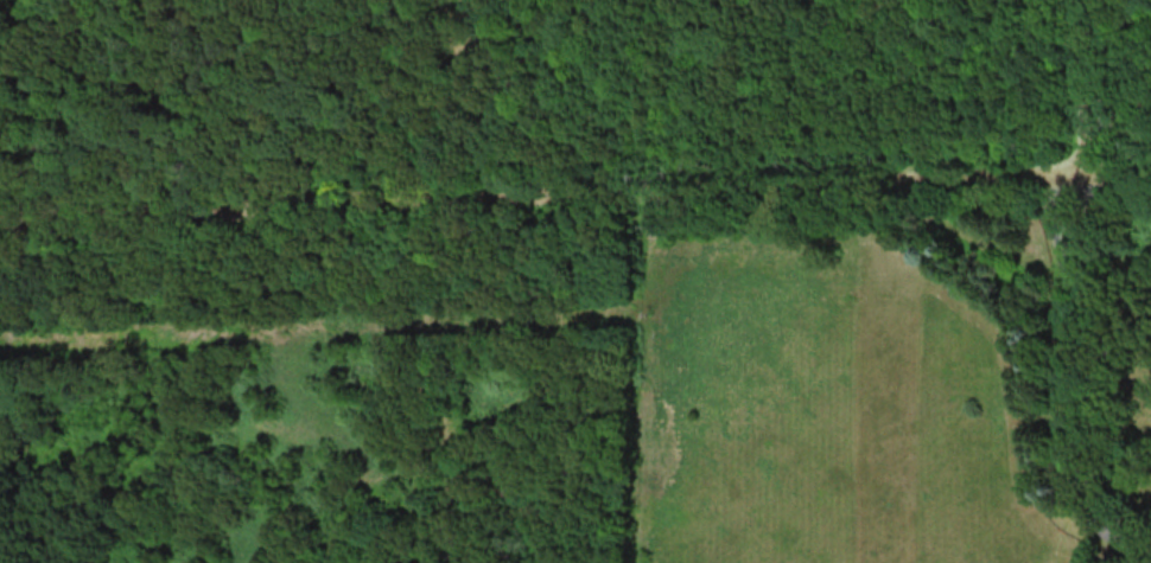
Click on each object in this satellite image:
road: (1081, 87)
road: (1118, 128)
road: (574, 193)
road: (1108, 536)
road: (1124, 552)

